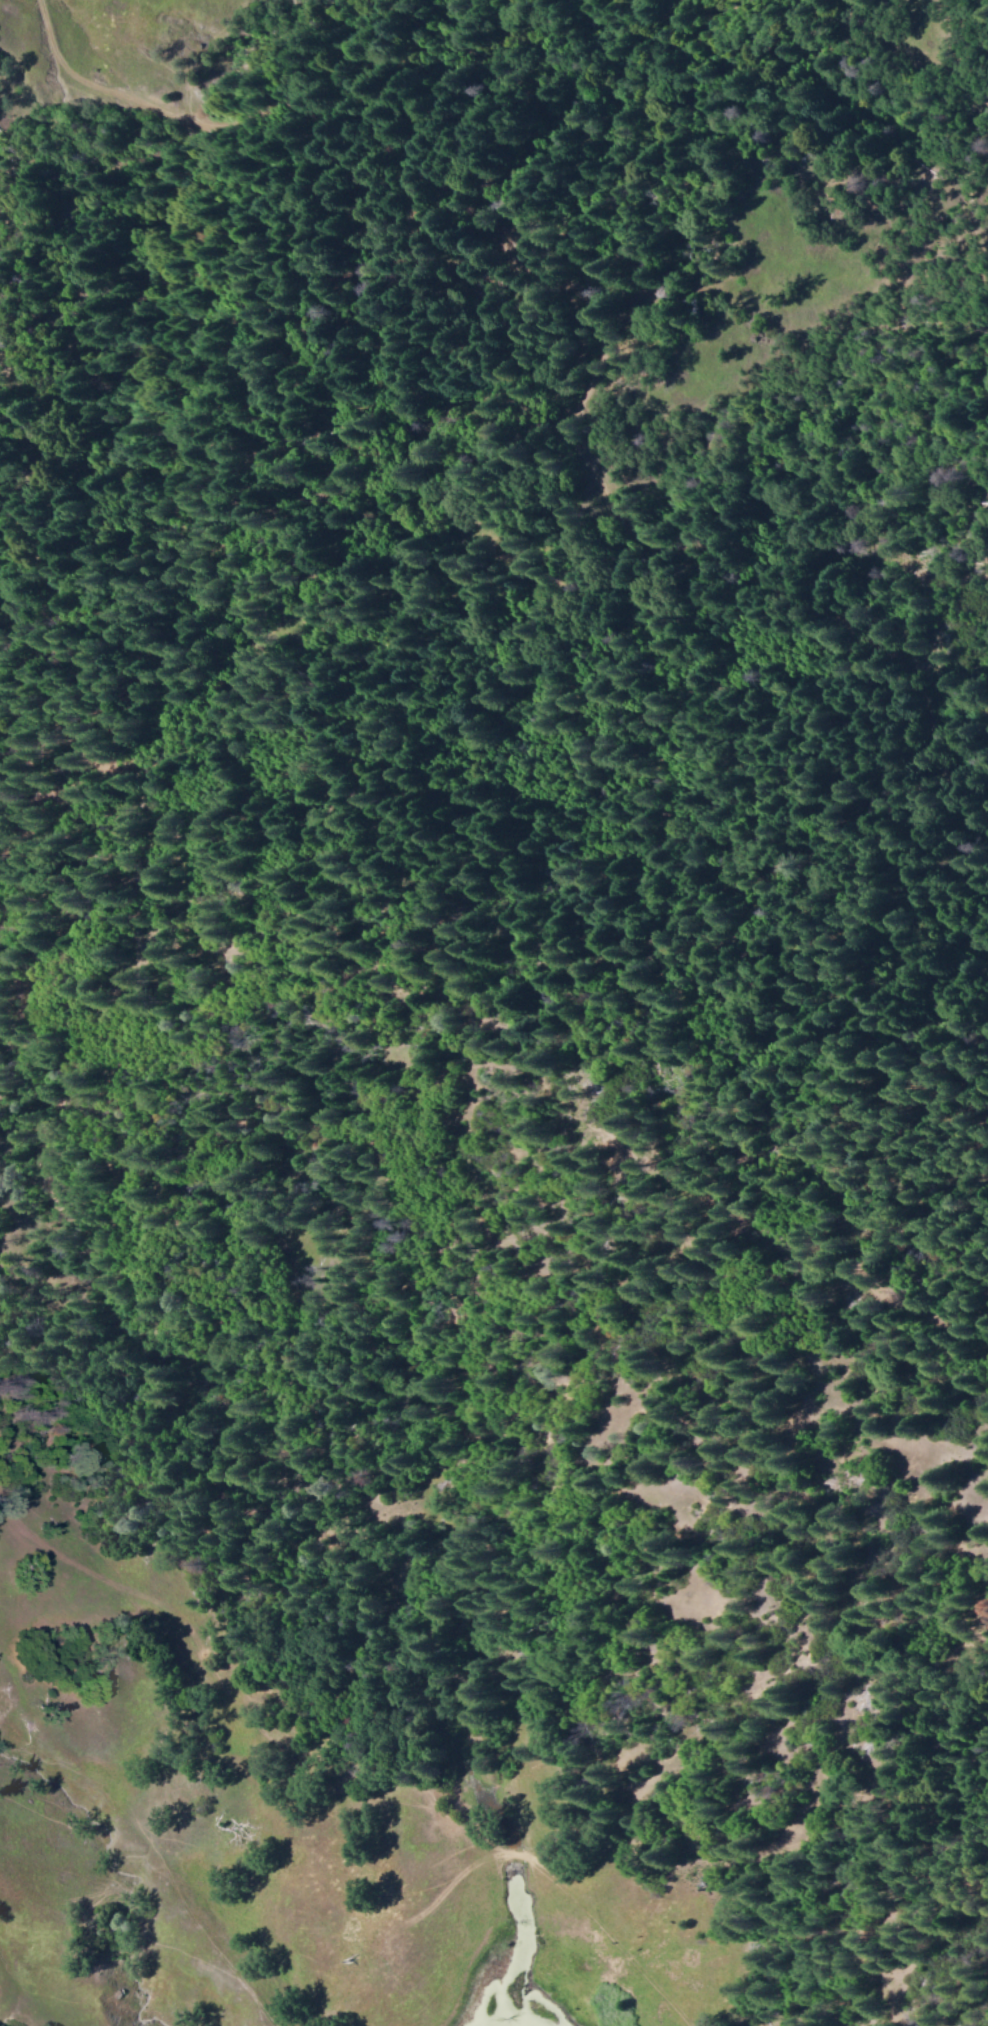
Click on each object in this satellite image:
road: (596, 338)
road: (441, 1735)

